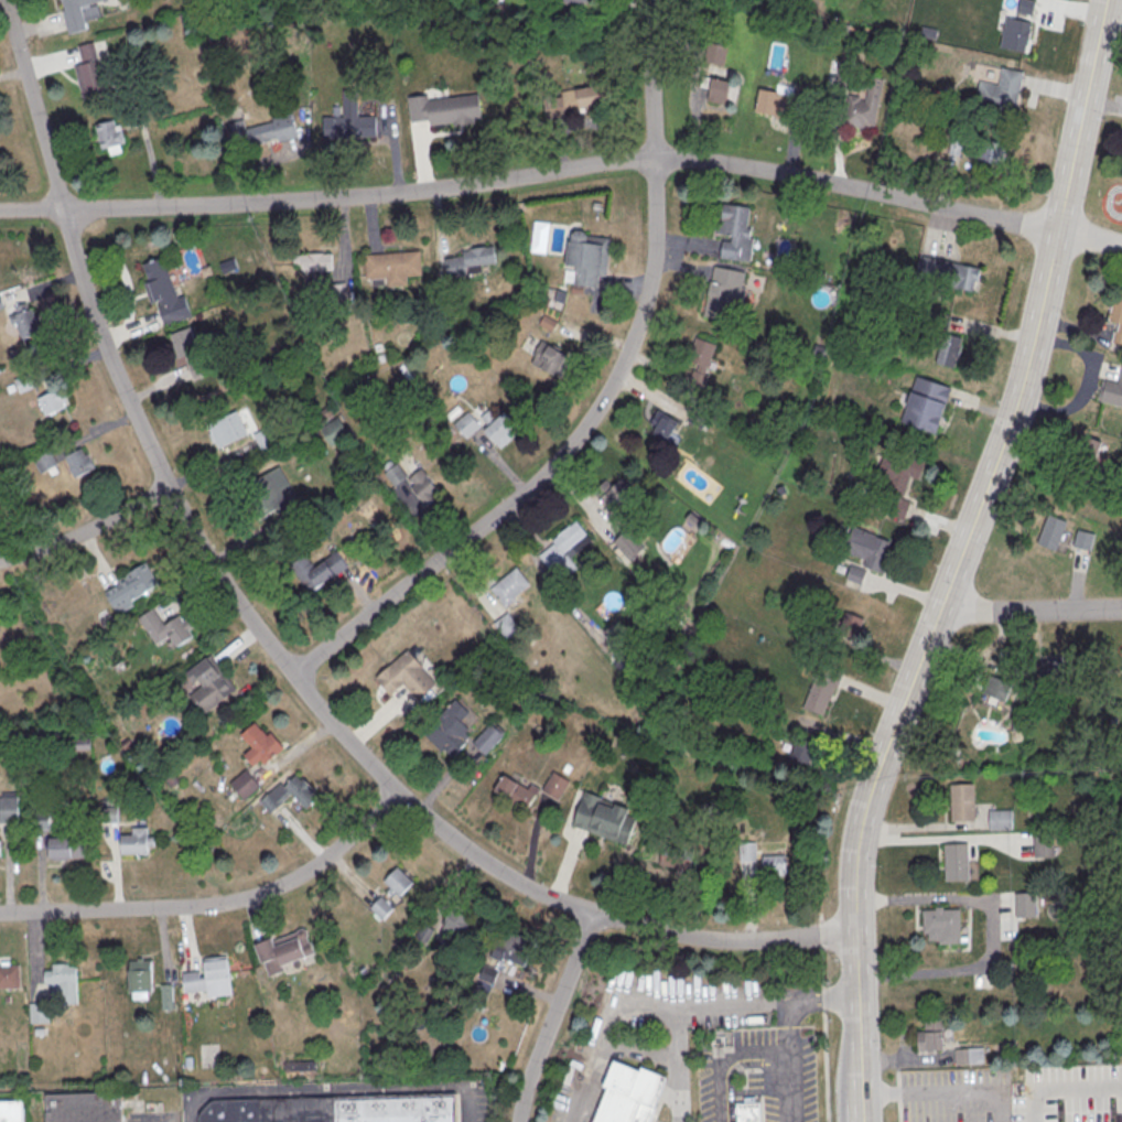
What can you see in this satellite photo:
building: (575, 1)
building: (1026, 7)
building: (77, 14)
building: (1014, 33)
building: (715, 52)
building: (91, 75)
building: (715, 88)
building: (1000, 90)
building: (874, 95)
building: (576, 100)
building: (783, 107)
building: (444, 109)
road: (1080, 118)
building: (349, 119)
building: (272, 129)
building: (110, 137)
building: (977, 148)
road: (564, 171)
building: (735, 225)
building: (587, 256)
building: (316, 261)
building: (470, 261)
building: (392, 265)
building: (947, 271)
building: (163, 291)
building: (724, 291)
building: (1116, 316)
building: (24, 320)
building: (948, 349)
building: (188, 352)
building: (701, 355)
building: (547, 357)
road: (1086, 385)
building: (1112, 391)
building: (53, 401)
road: (600, 402)
building: (925, 403)
building: (499, 427)
building: (665, 427)
building: (225, 428)
road: (1008, 428)
building: (1086, 451)
building: (79, 462)
building: (395, 474)
building: (897, 479)
building: (423, 486)
building: (614, 493)
building: (272, 494)
road: (87, 530)
building: (1051, 531)
building: (1082, 540)
building: (627, 544)
building: (564, 546)
building: (869, 549)
building: (316, 570)
building: (509, 586)
building: (130, 587)
road: (1029, 611)
building: (506, 625)
building: (852, 625)
building: (164, 628)
road: (265, 640)
building: (622, 665)
building: (1055, 667)
building: (406, 676)
building: (207, 684)
building: (996, 687)
building: (821, 690)
building: (1035, 693)
building: (449, 727)
building: (488, 740)
building: (260, 744)
building: (802, 752)
road: (875, 768)
building: (244, 784)
building: (554, 785)
building: (515, 792)
building: (289, 794)
building: (962, 802)
building: (9, 810)
building: (111, 813)
building: (605, 817)
building: (42, 819)
building: (1000, 820)
building: (134, 841)
building: (1044, 843)
building: (66, 845)
building: (0, 850)
building: (747, 851)
building: (956, 861)
building: (775, 864)
building: (398, 882)
road: (217, 904)
building: (1025, 904)
building: (381, 907)
building: (452, 924)
building: (942, 925)
road: (991, 932)
building: (509, 947)
building: (283, 950)
building: (141, 974)
building: (10, 975)
building: (212, 978)
building: (64, 982)
building: (166, 996)
road: (681, 1010)
building: (40, 1013)
road: (856, 1013)
road: (552, 1015)
road: (826, 1016)
road: (786, 1028)
road: (598, 1031)
building: (930, 1036)
building: (969, 1055)
road: (730, 1064)
road: (1064, 1089)
road: (333, 1090)
road: (940, 1092)
building: (628, 1094)
building: (84, 1108)
building: (336, 1109)
road: (856, 1109)
building: (11, 1112)
building: (749, 1112)
parking lot: (153, 1116)
road: (154, 1120)

